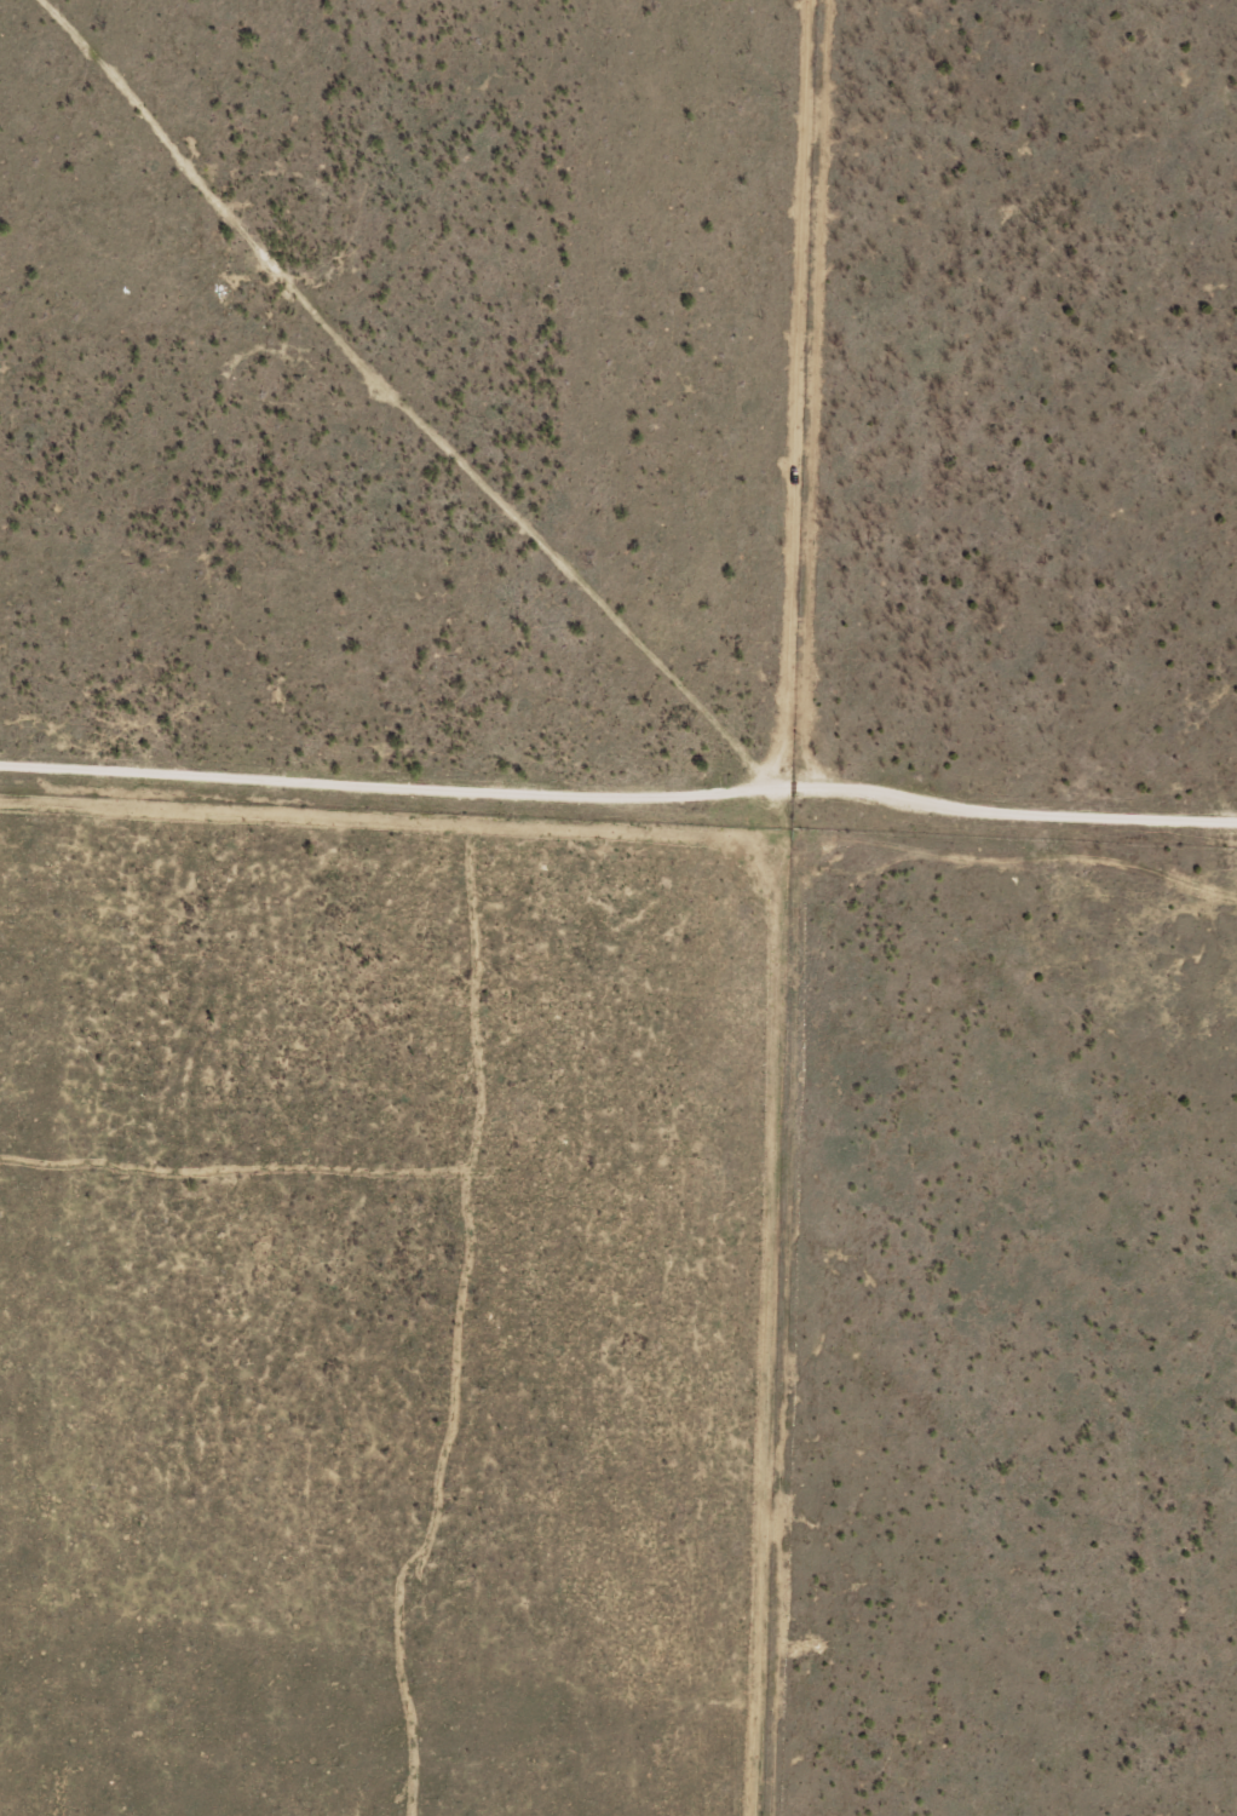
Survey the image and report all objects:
road: (381, 404)
road: (616, 827)

